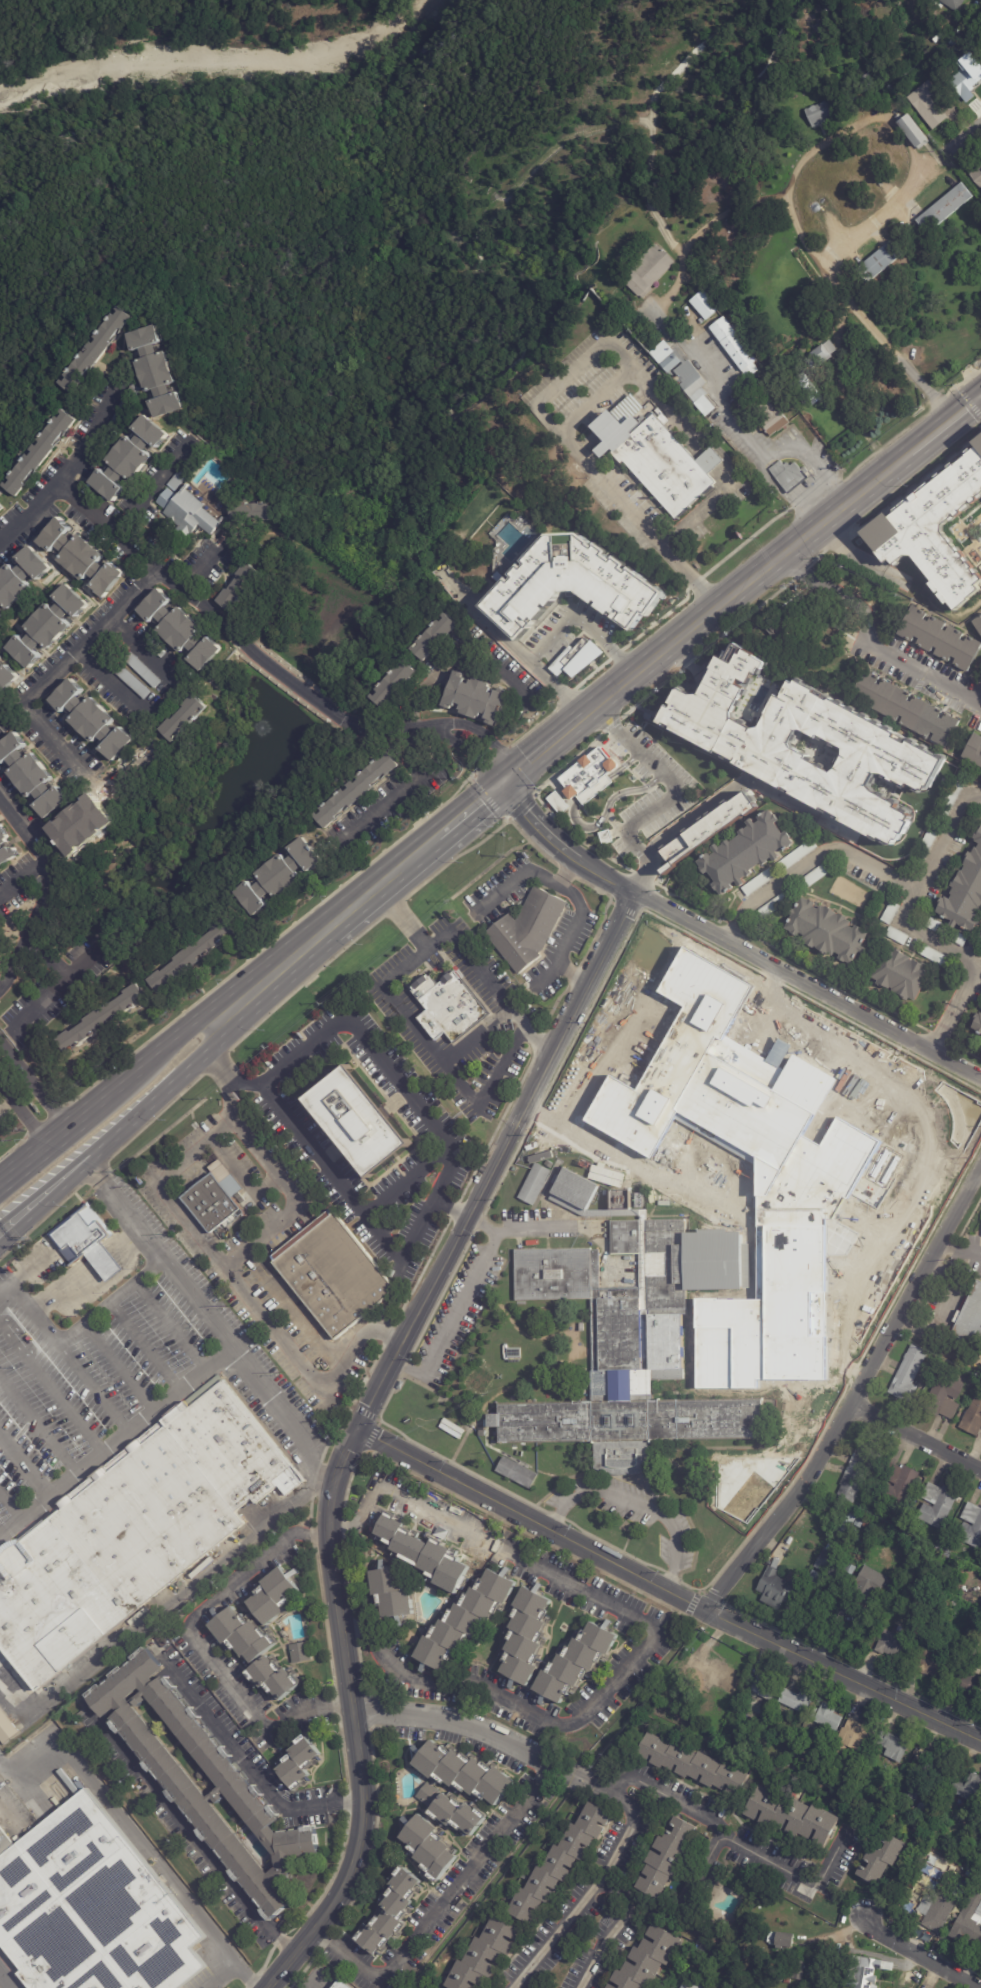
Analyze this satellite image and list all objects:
building: (952, 4)
building: (970, 26)
building: (967, 79)
building: (865, 84)
building: (926, 105)
building: (829, 108)
building: (911, 130)
road: (963, 140)
road: (793, 174)
building: (976, 176)
park: (346, 201)
building: (944, 208)
building: (877, 262)
building: (646, 272)
building: (704, 305)
building: (735, 346)
building: (98, 350)
building: (819, 356)
road: (568, 367)
building: (160, 370)
building: (683, 376)
building: (804, 391)
building: (130, 404)
road: (967, 409)
building: (642, 412)
building: (769, 419)
road: (750, 444)
building: (42, 452)
building: (130, 457)
building: (657, 459)
road: (586, 464)
road: (67, 467)
building: (788, 475)
road: (154, 484)
road: (722, 488)
building: (3, 506)
building: (260, 511)
building: (189, 512)
building: (934, 529)
building: (81, 557)
building: (0, 570)
road: (200, 570)
building: (23, 577)
building: (571, 583)
building: (242, 587)
road: (729, 602)
building: (1, 615)
building: (977, 624)
road: (585, 625)
building: (49, 626)
road: (94, 631)
building: (183, 631)
road: (232, 632)
road: (873, 636)
building: (438, 638)
building: (939, 639)
road: (518, 646)
building: (1, 655)
road: (457, 656)
building: (576, 658)
building: (145, 669)
building: (8, 678)
building: (134, 680)
building: (402, 684)
building: (476, 698)
road: (158, 700)
road: (977, 701)
road: (977, 708)
building: (904, 709)
road: (14, 710)
building: (94, 719)
building: (186, 720)
road: (479, 729)
building: (804, 743)
road: (464, 748)
building: (973, 751)
building: (589, 770)
road: (79, 771)
road: (500, 774)
building: (32, 775)
traffic signals: (503, 781)
road: (401, 786)
building: (358, 790)
road: (669, 798)
building: (948, 801)
building: (557, 802)
road: (697, 811)
road: (466, 812)
building: (0, 813)
building: (87, 824)
road: (579, 825)
road: (615, 825)
building: (708, 828)
road: (23, 829)
road: (561, 845)
building: (8, 847)
road: (647, 847)
building: (924, 847)
building: (744, 852)
building: (796, 855)
road: (820, 855)
building: (812, 877)
building: (282, 878)
road: (517, 879)
building: (758, 882)
building: (964, 893)
road: (42, 896)
building: (771, 906)
road: (908, 906)
building: (889, 913)
road: (575, 922)
building: (935, 926)
road: (328, 929)
building: (527, 930)
road: (732, 931)
building: (825, 932)
building: (896, 936)
building: (979, 936)
building: (959, 939)
building: (193, 955)
road: (467, 955)
building: (932, 955)
road: (547, 974)
building: (900, 975)
road: (807, 985)
road: (46, 994)
building: (447, 1006)
building: (104, 1018)
building: (977, 1024)
road: (946, 1029)
road: (419, 1032)
road: (303, 1049)
road: (151, 1064)
road: (484, 1088)
road: (167, 1091)
road: (32, 1097)
road: (424, 1119)
building: (358, 1121)
road: (942, 1141)
road: (309, 1144)
road: (40, 1158)
building: (807, 1172)
road: (240, 1175)
road: (403, 1181)
building: (532, 1183)
road: (43, 1184)
building: (575, 1188)
building: (215, 1197)
road: (296, 1199)
road: (48, 1203)
parking lot: (516, 1217)
road: (482, 1225)
road: (414, 1227)
road: (535, 1231)
building: (91, 1243)
road: (961, 1243)
road: (156, 1257)
road: (230, 1273)
building: (333, 1273)
road: (292, 1308)
building: (969, 1316)
parking lot: (453, 1318)
road: (452, 1323)
road: (170, 1325)
road: (74, 1331)
building: (633, 1343)
road: (143, 1346)
building: (511, 1352)
road: (118, 1366)
building: (907, 1374)
road: (93, 1386)
road: (50, 1387)
road: (179, 1388)
road: (854, 1393)
building: (942, 1396)
building: (972, 1415)
road: (37, 1423)
road: (357, 1424)
road: (915, 1436)
building: (517, 1469)
building: (756, 1470)
building: (856, 1472)
building: (732, 1475)
building: (897, 1484)
road: (10, 1504)
road: (637, 1504)
building: (935, 1504)
parking lot: (630, 1512)
road: (23, 1513)
building: (845, 1521)
building: (858, 1521)
building: (871, 1525)
building: (976, 1525)
building: (134, 1530)
building: (423, 1554)
building: (827, 1561)
building: (848, 1570)
building: (813, 1578)
building: (866, 1585)
building: (776, 1589)
road: (665, 1590)
building: (391, 1592)
building: (274, 1595)
building: (938, 1596)
road: (158, 1611)
building: (951, 1612)
building: (465, 1619)
building: (525, 1635)
road: (658, 1635)
building: (240, 1637)
building: (892, 1643)
road: (194, 1644)
building: (298, 1652)
building: (578, 1659)
building: (931, 1664)
building: (712, 1675)
building: (272, 1679)
building: (967, 1684)
building: (762, 1687)
building: (795, 1701)
road: (13, 1704)
building: (657, 1712)
building: (759, 1718)
building: (823, 1720)
building: (6, 1728)
park: (576, 1731)
road: (470, 1734)
building: (853, 1738)
road: (241, 1744)
building: (891, 1745)
building: (296, 1761)
building: (691, 1765)
building: (932, 1768)
building: (461, 1775)
building: (175, 1783)
building: (822, 1783)
building: (968, 1788)
building: (912, 1792)
building: (896, 1806)
road: (344, 1809)
road: (695, 1811)
building: (865, 1811)
building: (449, 1813)
building: (792, 1816)
building: (891, 1817)
road: (125, 1824)
building: (915, 1824)
road: (187, 1835)
building: (5, 1842)
building: (427, 1848)
building: (664, 1857)
building: (877, 1860)
building: (558, 1863)
building: (967, 1874)
building: (964, 1879)
building: (963, 1900)
road: (582, 1902)
road: (678, 1903)
road: (442, 1906)
building: (93, 1908)
building: (390, 1911)
building: (935, 1911)
building: (968, 1922)
building: (782, 1941)
road: (607, 1942)
building: (707, 1947)
road: (279, 1948)
building: (484, 1954)
road: (919, 1954)
building: (644, 1960)
road: (234, 1967)
building: (795, 1972)
building: (863, 1972)
building: (701, 1980)
road: (4, 1981)
building: (341, 1984)
building: (687, 1985)
building: (606, 1987)

